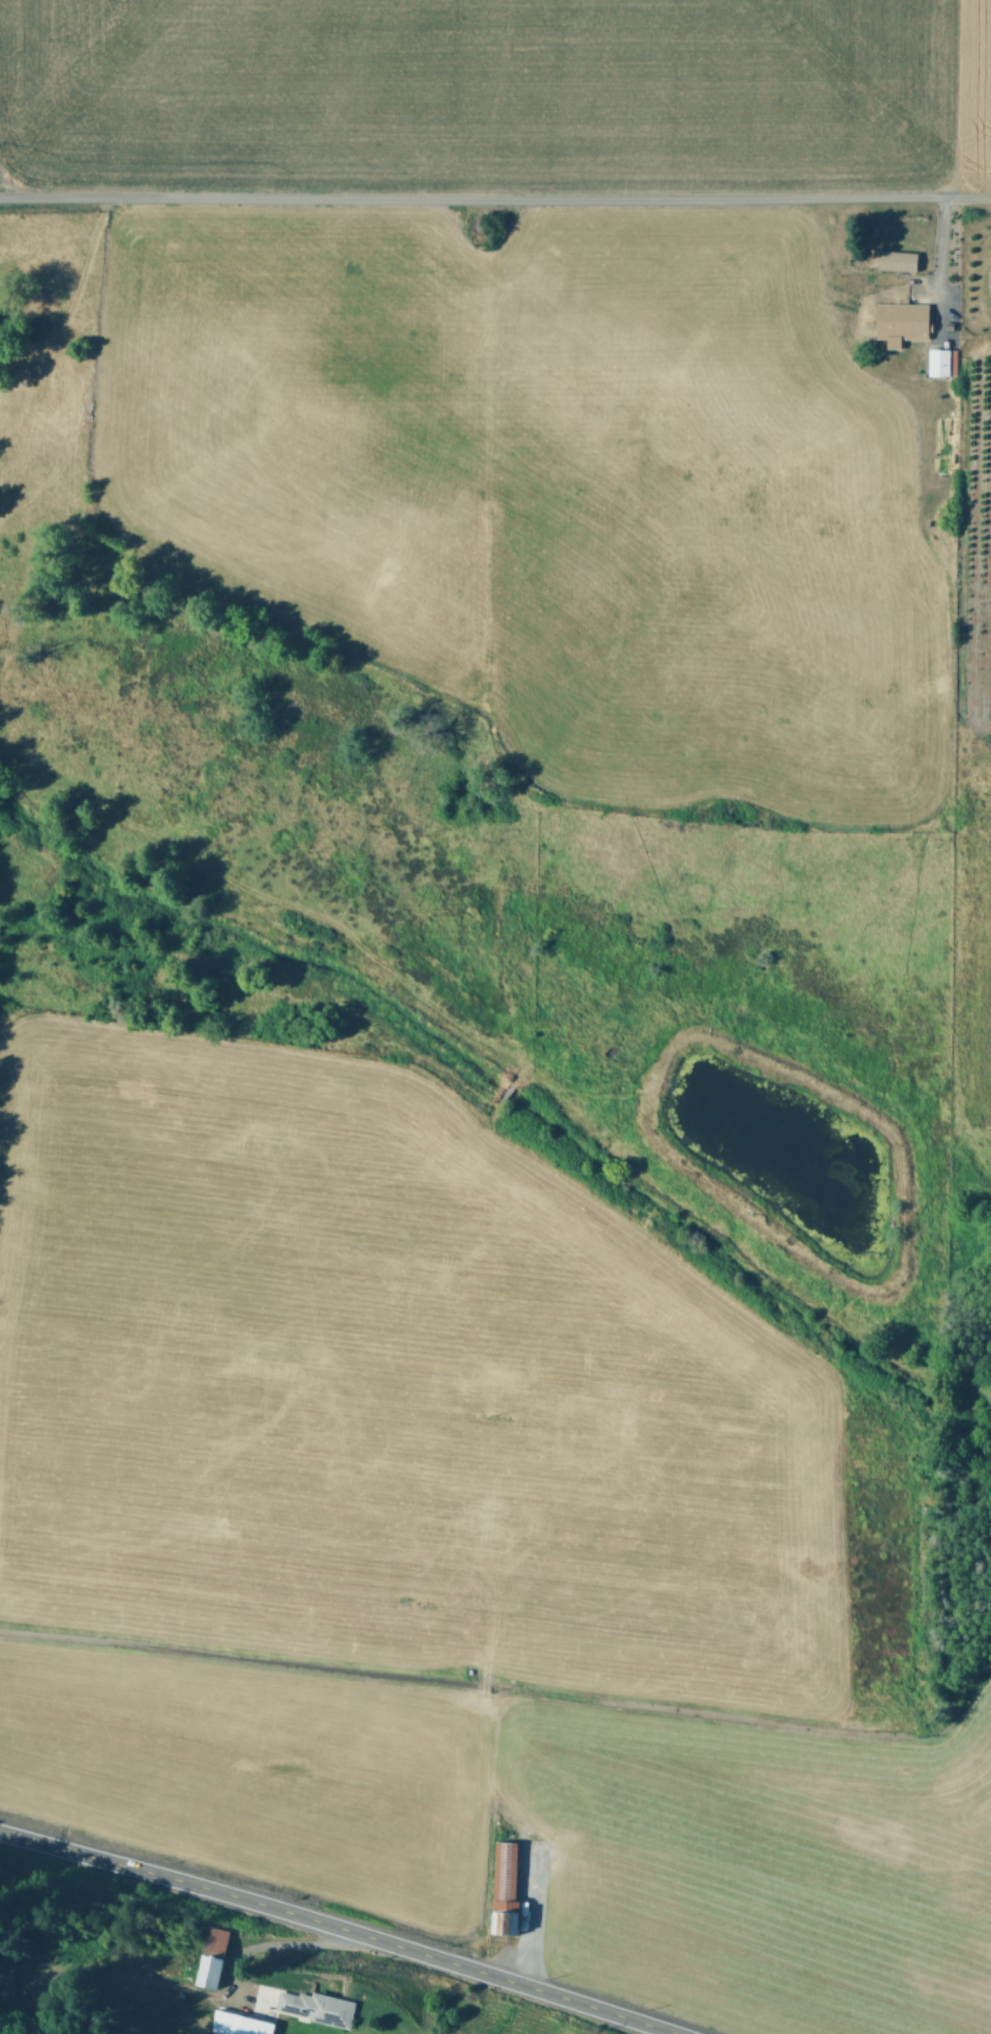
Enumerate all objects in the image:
road: (495, 197)
road: (943, 252)
building: (894, 260)
building: (989, 287)
building: (899, 322)
building: (942, 361)
crop: (505, 976)
building: (511, 1887)
road: (339, 1928)
road: (263, 1942)
building: (217, 1956)
building: (319, 2006)
building: (240, 2023)

